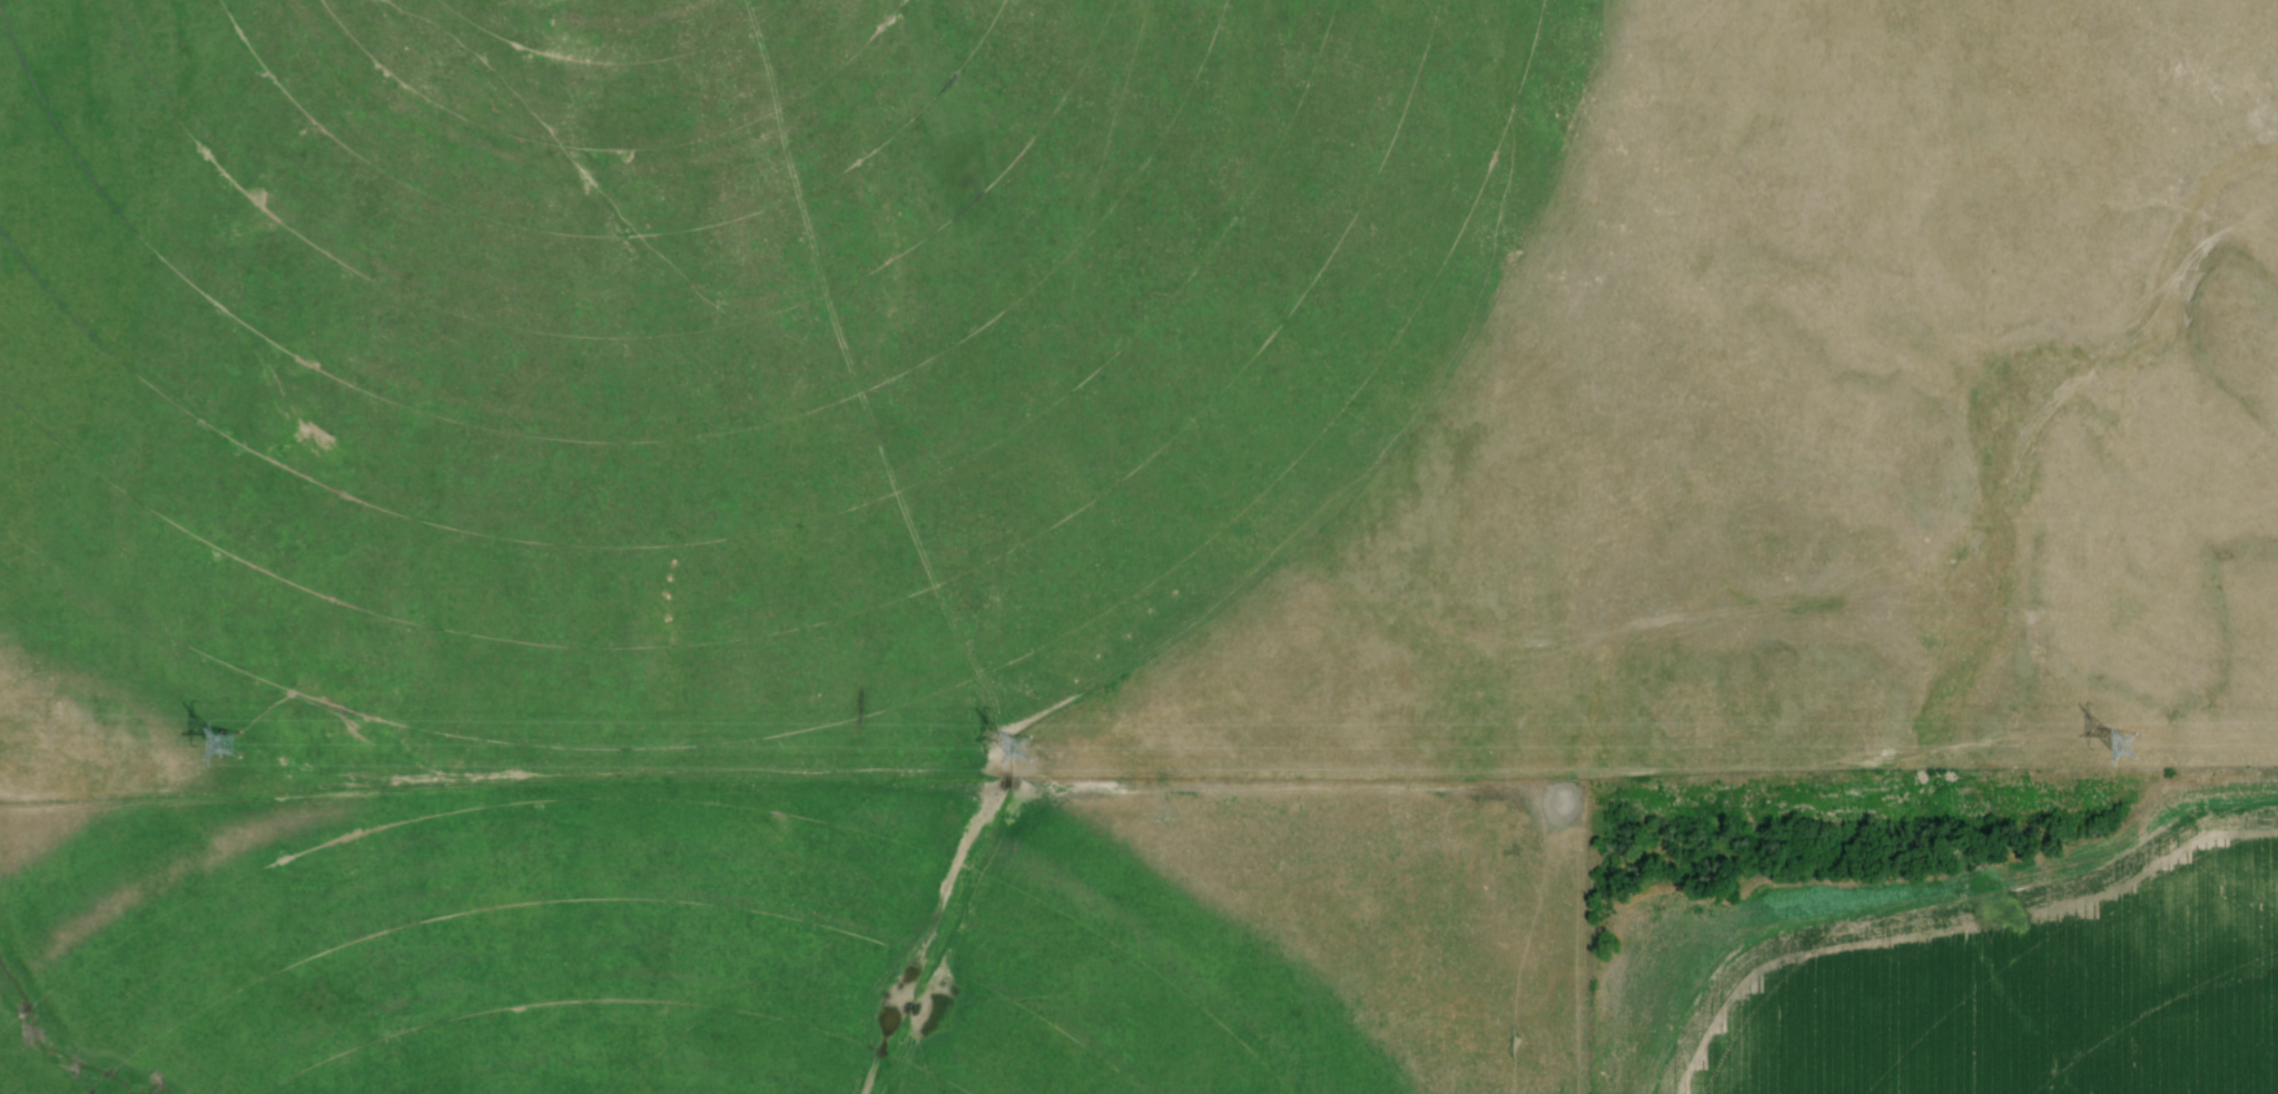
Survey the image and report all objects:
power tower: (227, 745)
power tower: (2124, 745)
power tower: (1017, 748)

